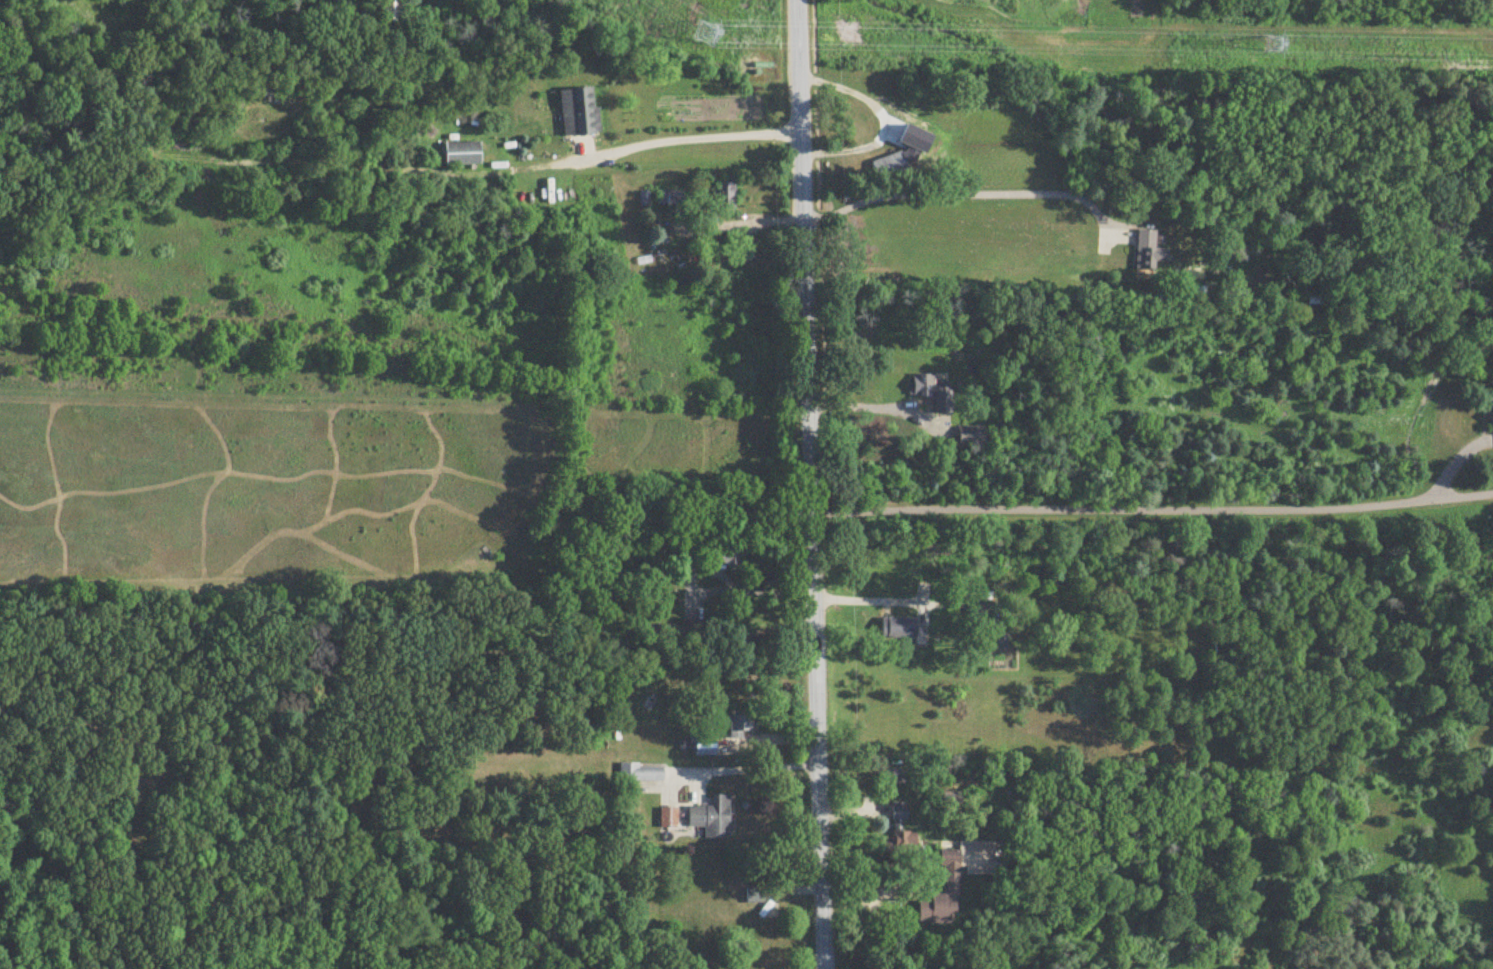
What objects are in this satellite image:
building: (393, 10)
power tower: (705, 36)
power tower: (1267, 43)
building: (579, 113)
road: (886, 125)
building: (922, 142)
road: (649, 144)
building: (462, 155)
building: (890, 167)
road: (953, 194)
building: (724, 199)
building: (670, 200)
building: (1150, 253)
building: (1195, 276)
building: (934, 392)
road: (866, 408)
building: (1491, 414)
building: (971, 438)
road: (809, 484)
road: (1160, 509)
building: (667, 545)
building: (727, 552)
road: (724, 578)
building: (609, 587)
road: (875, 601)
building: (899, 628)
building: (739, 726)
building: (705, 751)
road: (748, 768)
building: (636, 778)
building: (900, 815)
building: (712, 818)
building: (903, 843)
building: (957, 880)
road: (873, 891)
building: (754, 896)

